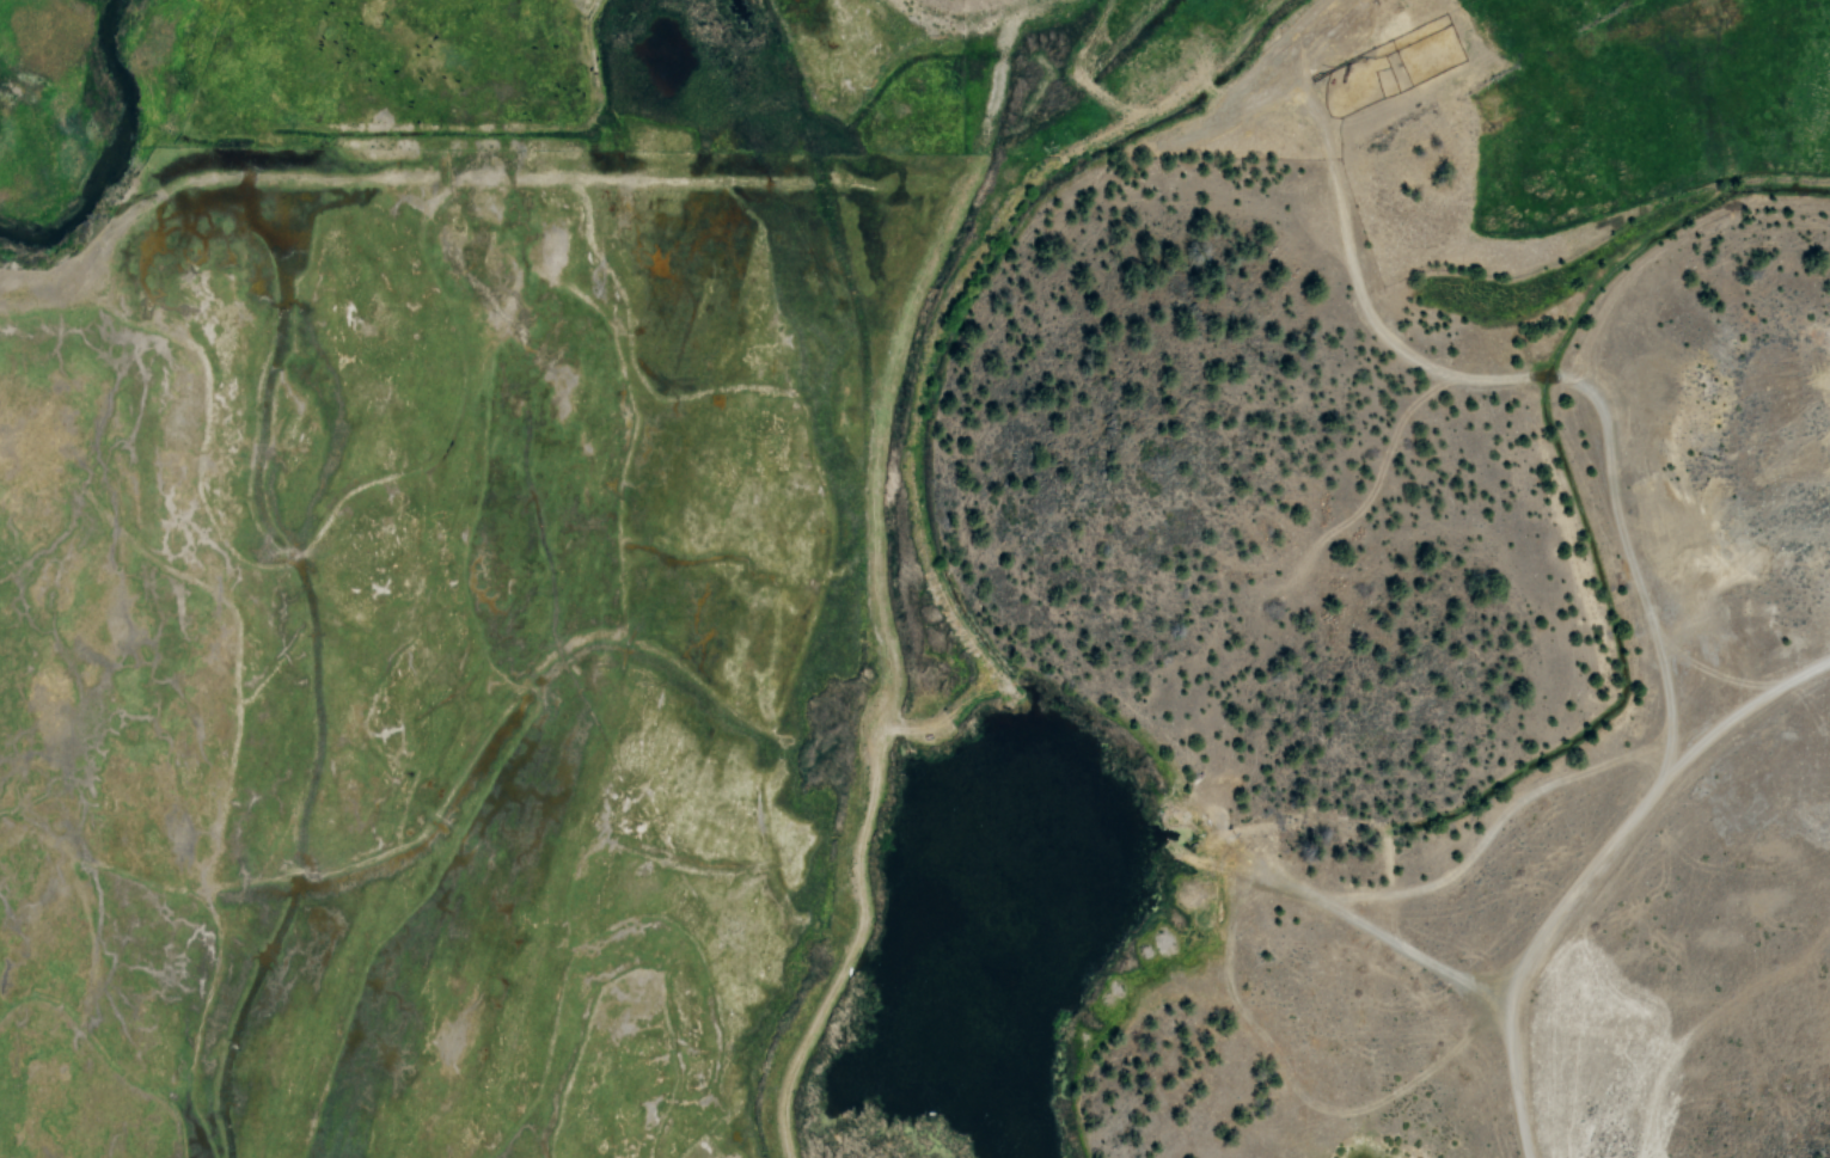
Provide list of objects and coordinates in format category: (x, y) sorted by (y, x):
river: (103, 67)
river: (78, 214)
road: (1591, 863)

